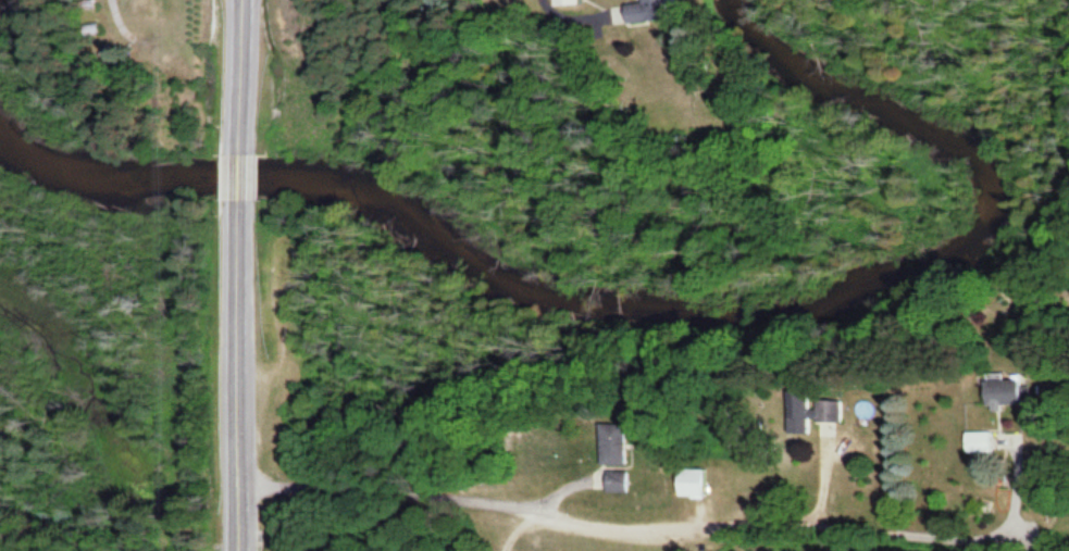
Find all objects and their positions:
building: (563, 2)
building: (644, 11)
road: (239, 77)
road: (238, 177)
river: (645, 312)
road: (238, 376)
building: (1002, 390)
building: (810, 411)
building: (978, 442)
building: (613, 444)
building: (614, 481)
building: (689, 484)
road: (385, 494)
road: (778, 523)
road: (515, 528)

